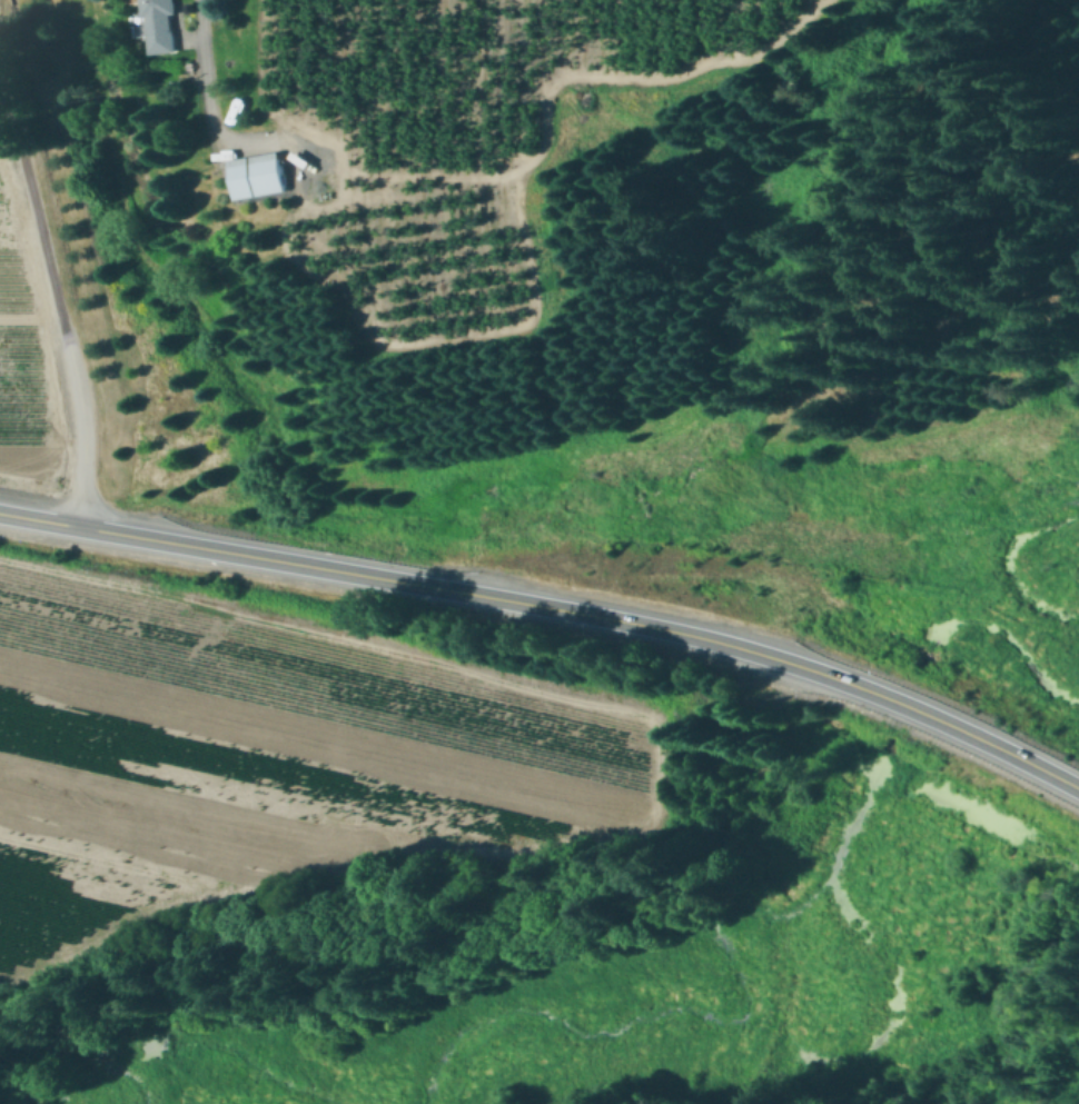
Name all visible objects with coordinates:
building: (158, 27)
road: (209, 91)
building: (257, 177)
building: (536, 215)
road: (55, 287)
crop: (37, 290)
road: (392, 580)
road: (895, 702)
crop: (270, 757)
road: (1043, 769)

